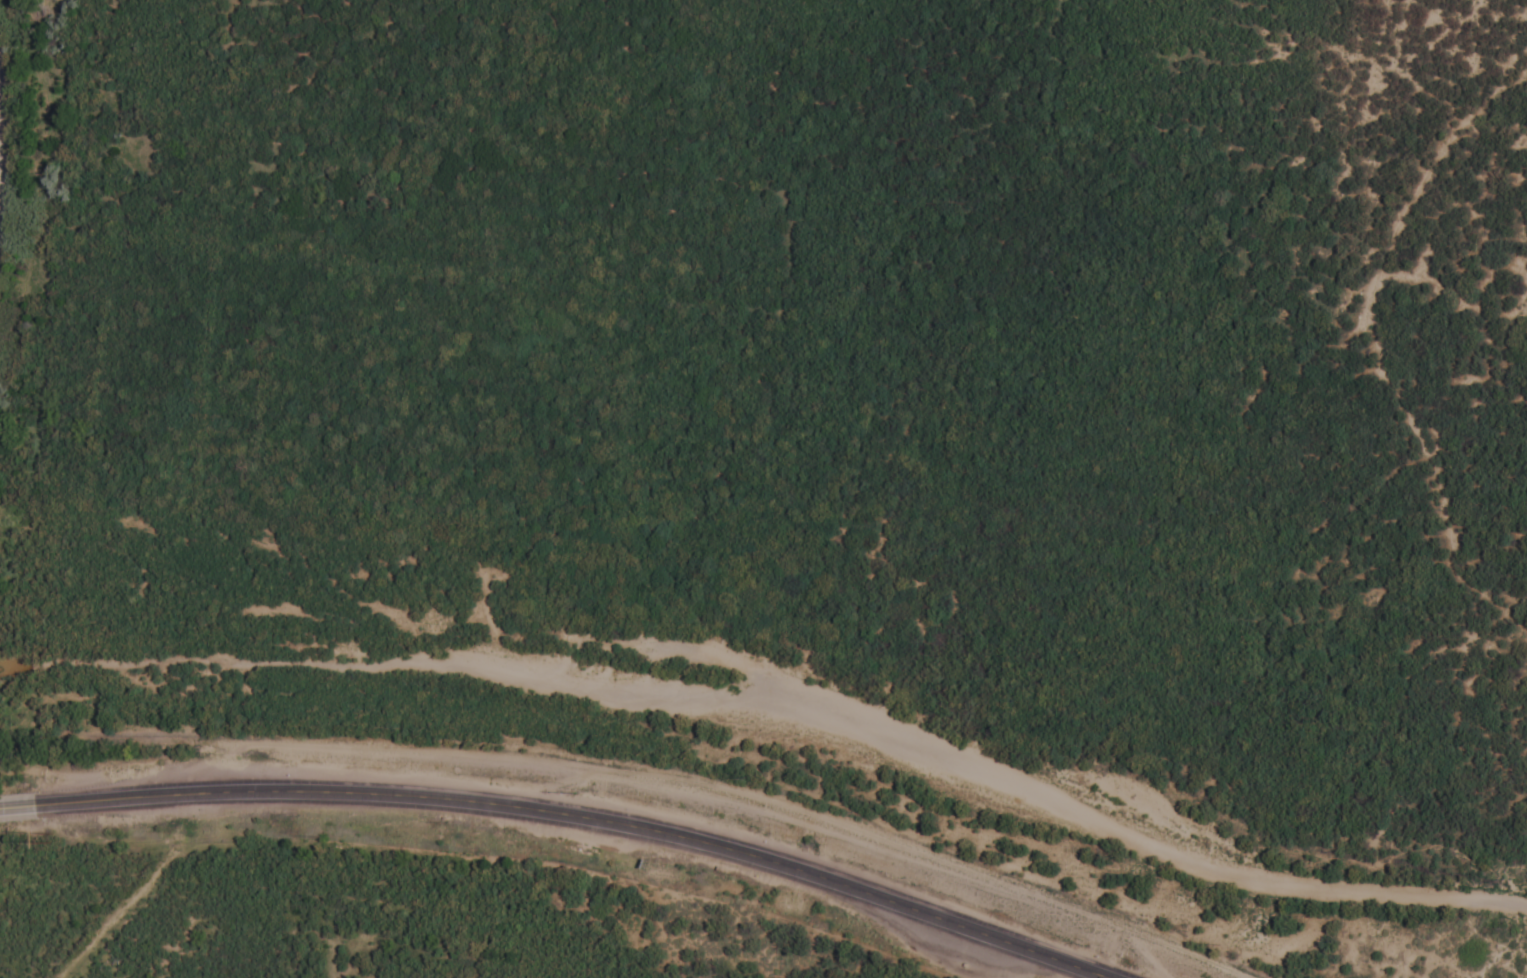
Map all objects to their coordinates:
road: (238, 790)
road: (25, 808)
road: (766, 867)

